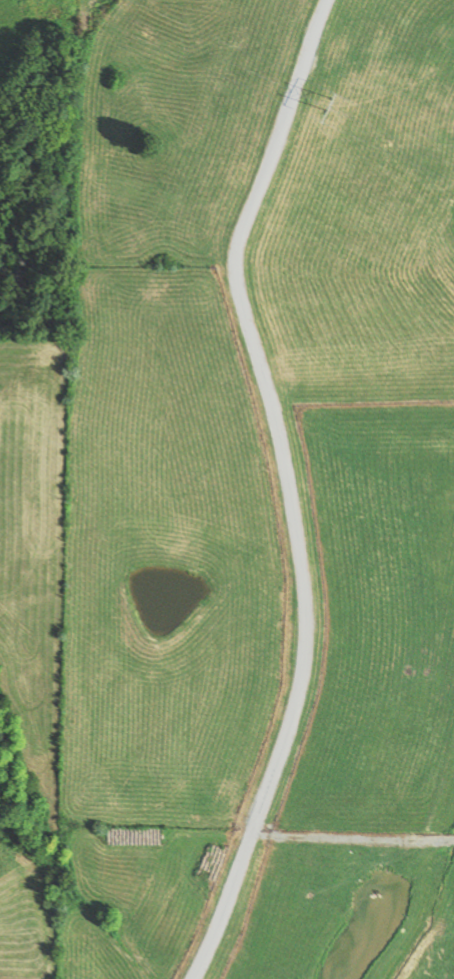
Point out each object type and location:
power tower: (329, 105)
road: (285, 488)

